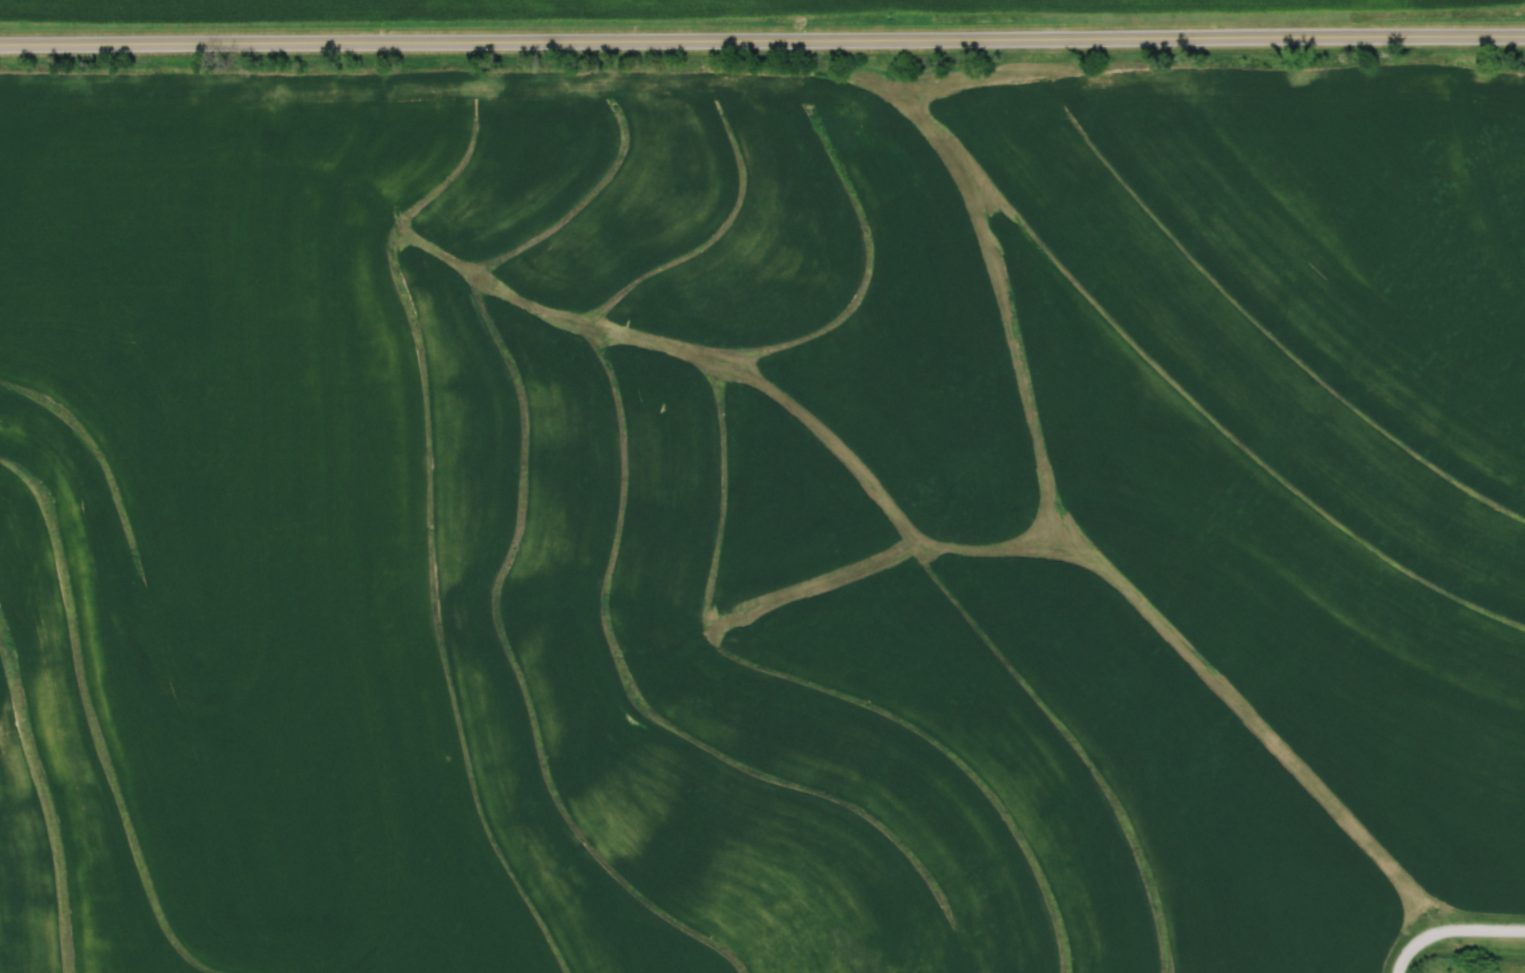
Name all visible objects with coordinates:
road: (762, 40)
road: (1451, 933)

